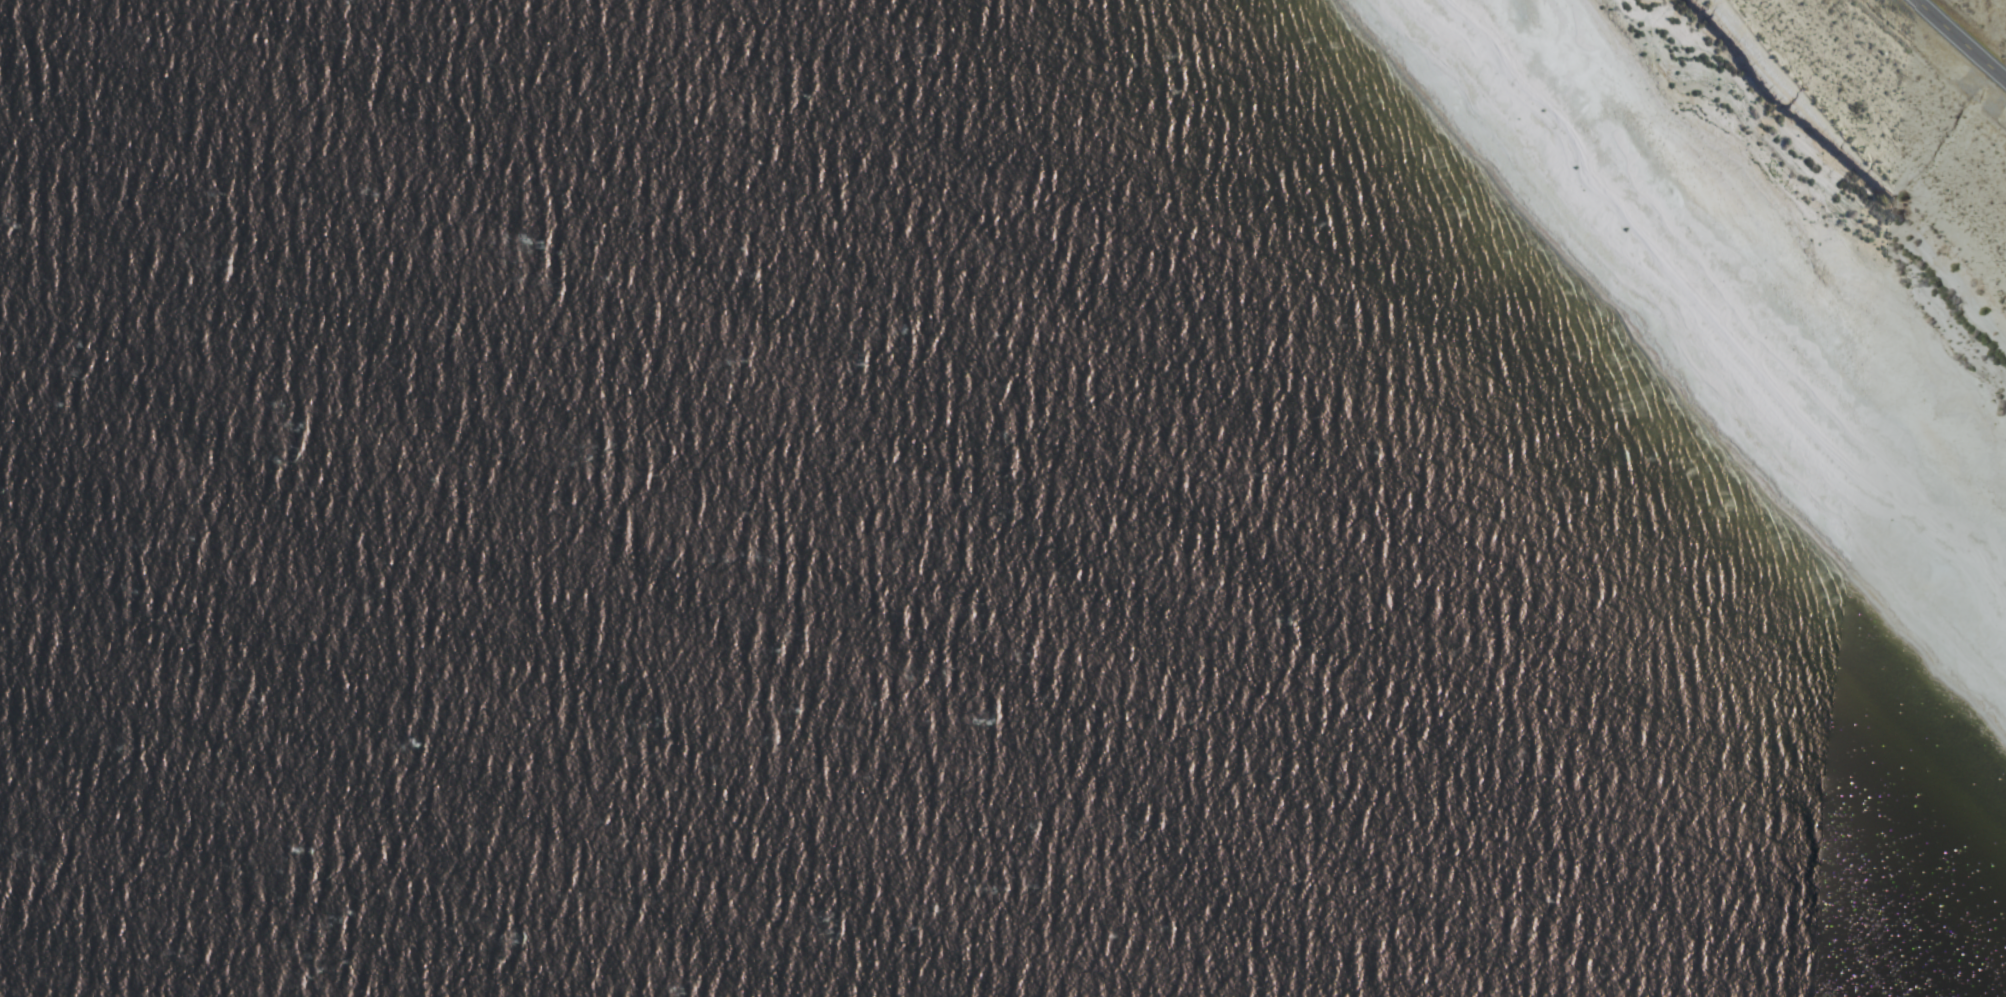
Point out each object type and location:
road: (1963, 38)
road: (1979, 539)

